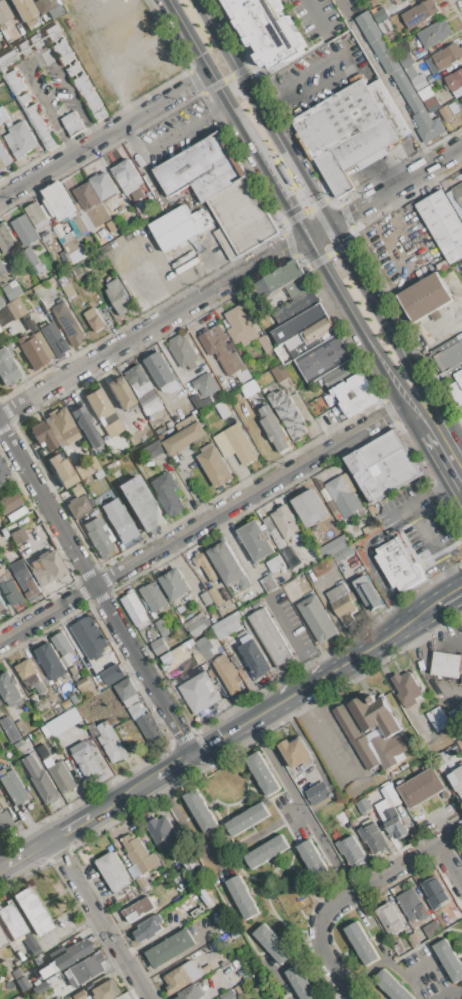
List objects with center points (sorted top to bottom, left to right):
building: (404, 0)
building: (47, 4)
building: (22, 9)
building: (419, 13)
road: (317, 16)
building: (8, 20)
building: (31, 24)
building: (267, 30)
building: (52, 33)
building: (434, 33)
building: (35, 42)
building: (60, 46)
building: (0, 47)
building: (24, 49)
building: (64, 51)
building: (447, 56)
building: (66, 57)
building: (7, 60)
road: (347, 61)
building: (74, 69)
parking lot: (321, 75)
building: (12, 76)
building: (0, 77)
road: (227, 77)
building: (399, 77)
building: (454, 80)
building: (81, 81)
road: (385, 81)
building: (419, 82)
building: (84, 86)
building: (18, 87)
building: (87, 92)
building: (425, 93)
building: (25, 98)
building: (90, 98)
building: (461, 99)
road: (272, 101)
building: (94, 103)
building: (431, 104)
building: (31, 109)
building: (97, 109)
road: (261, 112)
building: (445, 113)
building: (100, 115)
building: (4, 117)
road: (237, 118)
building: (38, 120)
building: (73, 123)
building: (40, 127)
building: (349, 130)
building: (44, 132)
parking lot: (176, 133)
road: (104, 135)
road: (168, 137)
building: (47, 138)
building: (20, 139)
building: (50, 144)
building: (4, 156)
building: (200, 168)
building: (127, 177)
road: (408, 177)
building: (103, 186)
building: (458, 193)
road: (300, 200)
building: (91, 204)
building: (64, 208)
road: (305, 210)
building: (36, 215)
building: (84, 216)
building: (242, 216)
road: (341, 216)
building: (200, 219)
traffic signals: (328, 224)
building: (112, 226)
building: (443, 226)
building: (174, 228)
road: (317, 230)
building: (25, 231)
building: (58, 231)
building: (46, 236)
traffic signals: (307, 236)
building: (6, 240)
building: (72, 247)
building: (1, 251)
building: (2, 268)
building: (38, 268)
building: (96, 280)
building: (51, 281)
building: (67, 288)
building: (291, 291)
building: (10, 292)
building: (25, 296)
building: (118, 296)
building: (44, 297)
building: (425, 297)
building: (1, 304)
building: (14, 308)
road: (375, 308)
building: (4, 316)
building: (44, 318)
building: (94, 319)
road: (354, 320)
building: (68, 323)
building: (239, 324)
building: (30, 325)
road: (152, 325)
building: (300, 325)
building: (0, 330)
road: (431, 331)
building: (320, 332)
building: (53, 338)
building: (265, 344)
building: (5, 346)
building: (33, 350)
building: (221, 350)
building: (183, 352)
building: (324, 361)
building: (449, 367)
building: (6, 369)
building: (160, 369)
building: (279, 374)
building: (341, 377)
building: (138, 381)
building: (206, 384)
building: (354, 388)
building: (249, 389)
building: (120, 393)
building: (200, 401)
building: (362, 404)
building: (223, 410)
building: (103, 412)
building: (288, 414)
road: (413, 419)
road: (443, 421)
building: (85, 426)
building: (61, 428)
building: (273, 428)
road: (457, 432)
building: (42, 435)
building: (185, 438)
building: (223, 445)
building: (240, 445)
building: (153, 450)
building: (215, 466)
road: (443, 466)
building: (86, 468)
building: (382, 469)
building: (60, 471)
building: (2, 473)
building: (167, 493)
road: (431, 494)
building: (342, 499)
building: (10, 502)
building: (140, 503)
building: (79, 505)
building: (310, 507)
building: (16, 515)
road: (401, 516)
building: (287, 523)
building: (120, 524)
road: (201, 524)
building: (20, 532)
building: (273, 532)
building: (98, 537)
building: (256, 541)
road: (235, 547)
building: (332, 547)
road: (434, 548)
road: (440, 551)
building: (340, 553)
building: (275, 564)
building: (229, 565)
building: (398, 565)
road: (420, 566)
building: (206, 567)
building: (321, 567)
building: (49, 569)
road: (379, 571)
building: (202, 578)
building: (25, 580)
building: (174, 584)
road: (97, 590)
building: (12, 591)
building: (366, 593)
building: (154, 596)
building: (215, 596)
road: (448, 596)
building: (206, 598)
building: (341, 603)
building: (2, 606)
building: (135, 607)
building: (0, 615)
building: (316, 619)
building: (162, 625)
building: (198, 626)
building: (226, 626)
building: (89, 636)
building: (272, 639)
building: (64, 646)
building: (159, 647)
road: (429, 648)
building: (202, 649)
building: (254, 657)
building: (174, 658)
building: (51, 661)
building: (446, 664)
building: (26, 669)
building: (113, 674)
building: (229, 674)
road: (319, 679)
building: (461, 683)
building: (41, 688)
building: (87, 689)
building: (406, 689)
building: (11, 690)
building: (127, 691)
building: (199, 693)
building: (0, 703)
building: (137, 711)
building: (436, 719)
building: (63, 721)
building: (149, 728)
building: (10, 729)
building: (374, 732)
road: (323, 735)
building: (111, 742)
building: (296, 752)
building: (89, 762)
building: (62, 774)
building: (262, 774)
building: (456, 779)
building: (42, 780)
building: (13, 786)
building: (421, 788)
building: (318, 793)
building: (363, 805)
building: (201, 811)
road: (101, 812)
road: (297, 812)
building: (247, 818)
building: (341, 818)
building: (4, 821)
building: (392, 821)
building: (161, 832)
building: (375, 838)
building: (266, 851)
road: (327, 851)
building: (350, 851)
building: (312, 859)
building: (139, 860)
road: (451, 862)
building: (114, 874)
building: (434, 892)
road: (352, 894)
building: (242, 897)
building: (413, 905)
building: (139, 908)
building: (31, 911)
road: (102, 919)
building: (391, 919)
building: (11, 921)
building: (149, 928)
building: (432, 929)
road: (69, 930)
building: (413, 939)
building: (2, 941)
building: (362, 943)
building: (273, 944)
building: (171, 948)
building: (398, 949)
road: (187, 950)
road: (382, 952)
road: (298, 957)
building: (65, 958)
building: (449, 961)
building: (4, 968)
building: (83, 970)
building: (186, 975)
road: (275, 977)
building: (19, 981)
building: (301, 983)
building: (392, 986)
building: (39, 988)
building: (105, 990)
building: (191, 992)
road: (334, 992)
road: (449, 993)
building: (227, 995)
building: (76, 996)

